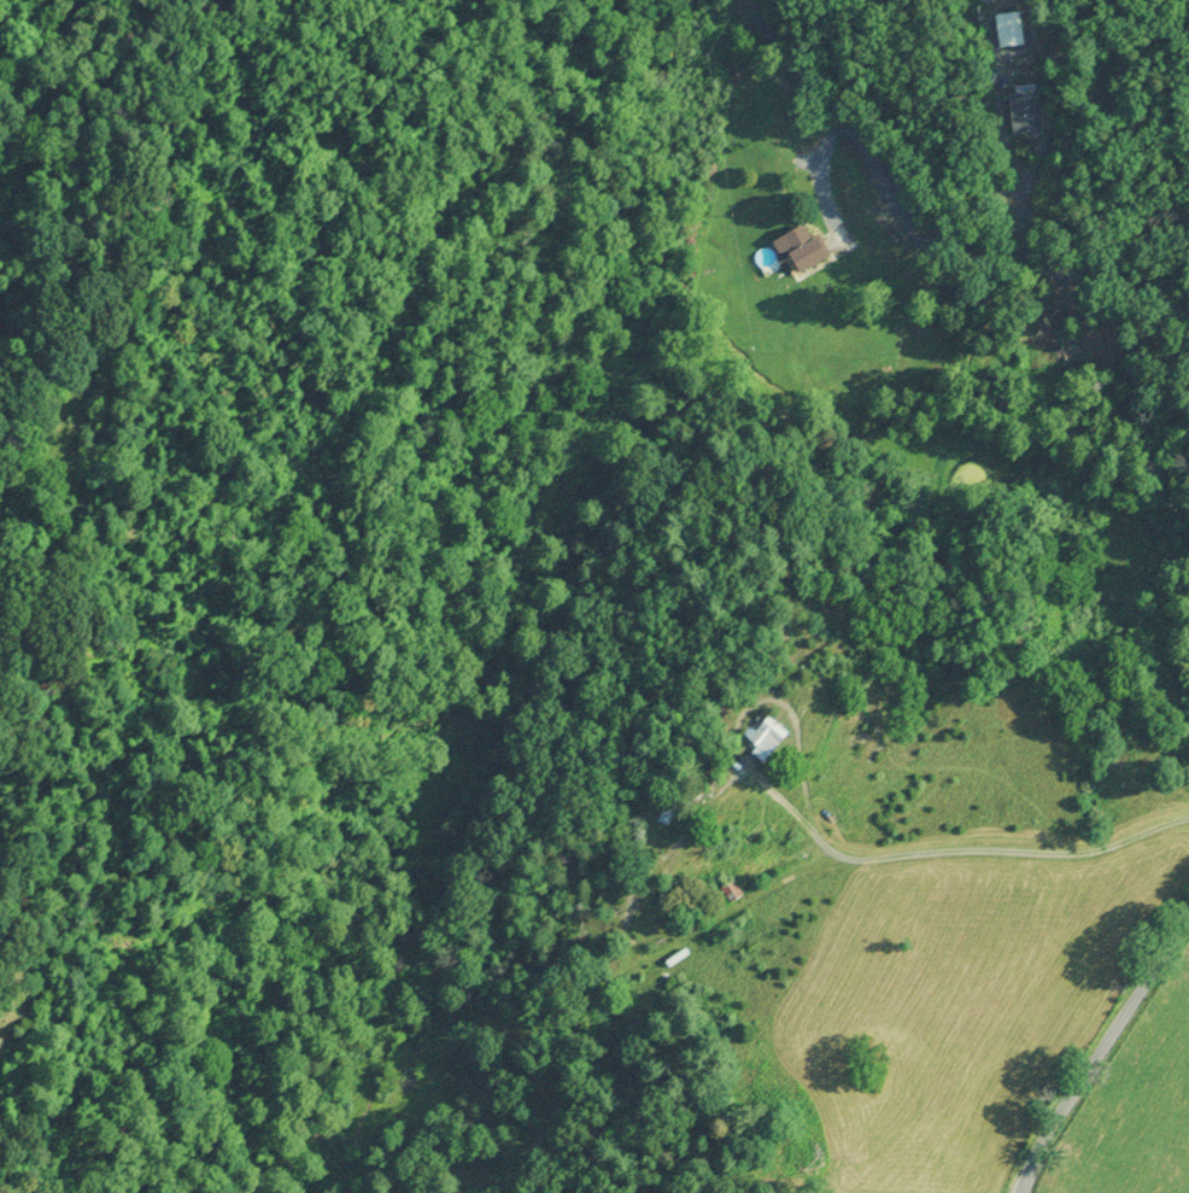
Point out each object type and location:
building: (1031, 116)
road: (945, 211)
building: (807, 248)
building: (773, 735)
road: (808, 747)
building: (672, 814)
building: (733, 891)
road: (1103, 1035)

